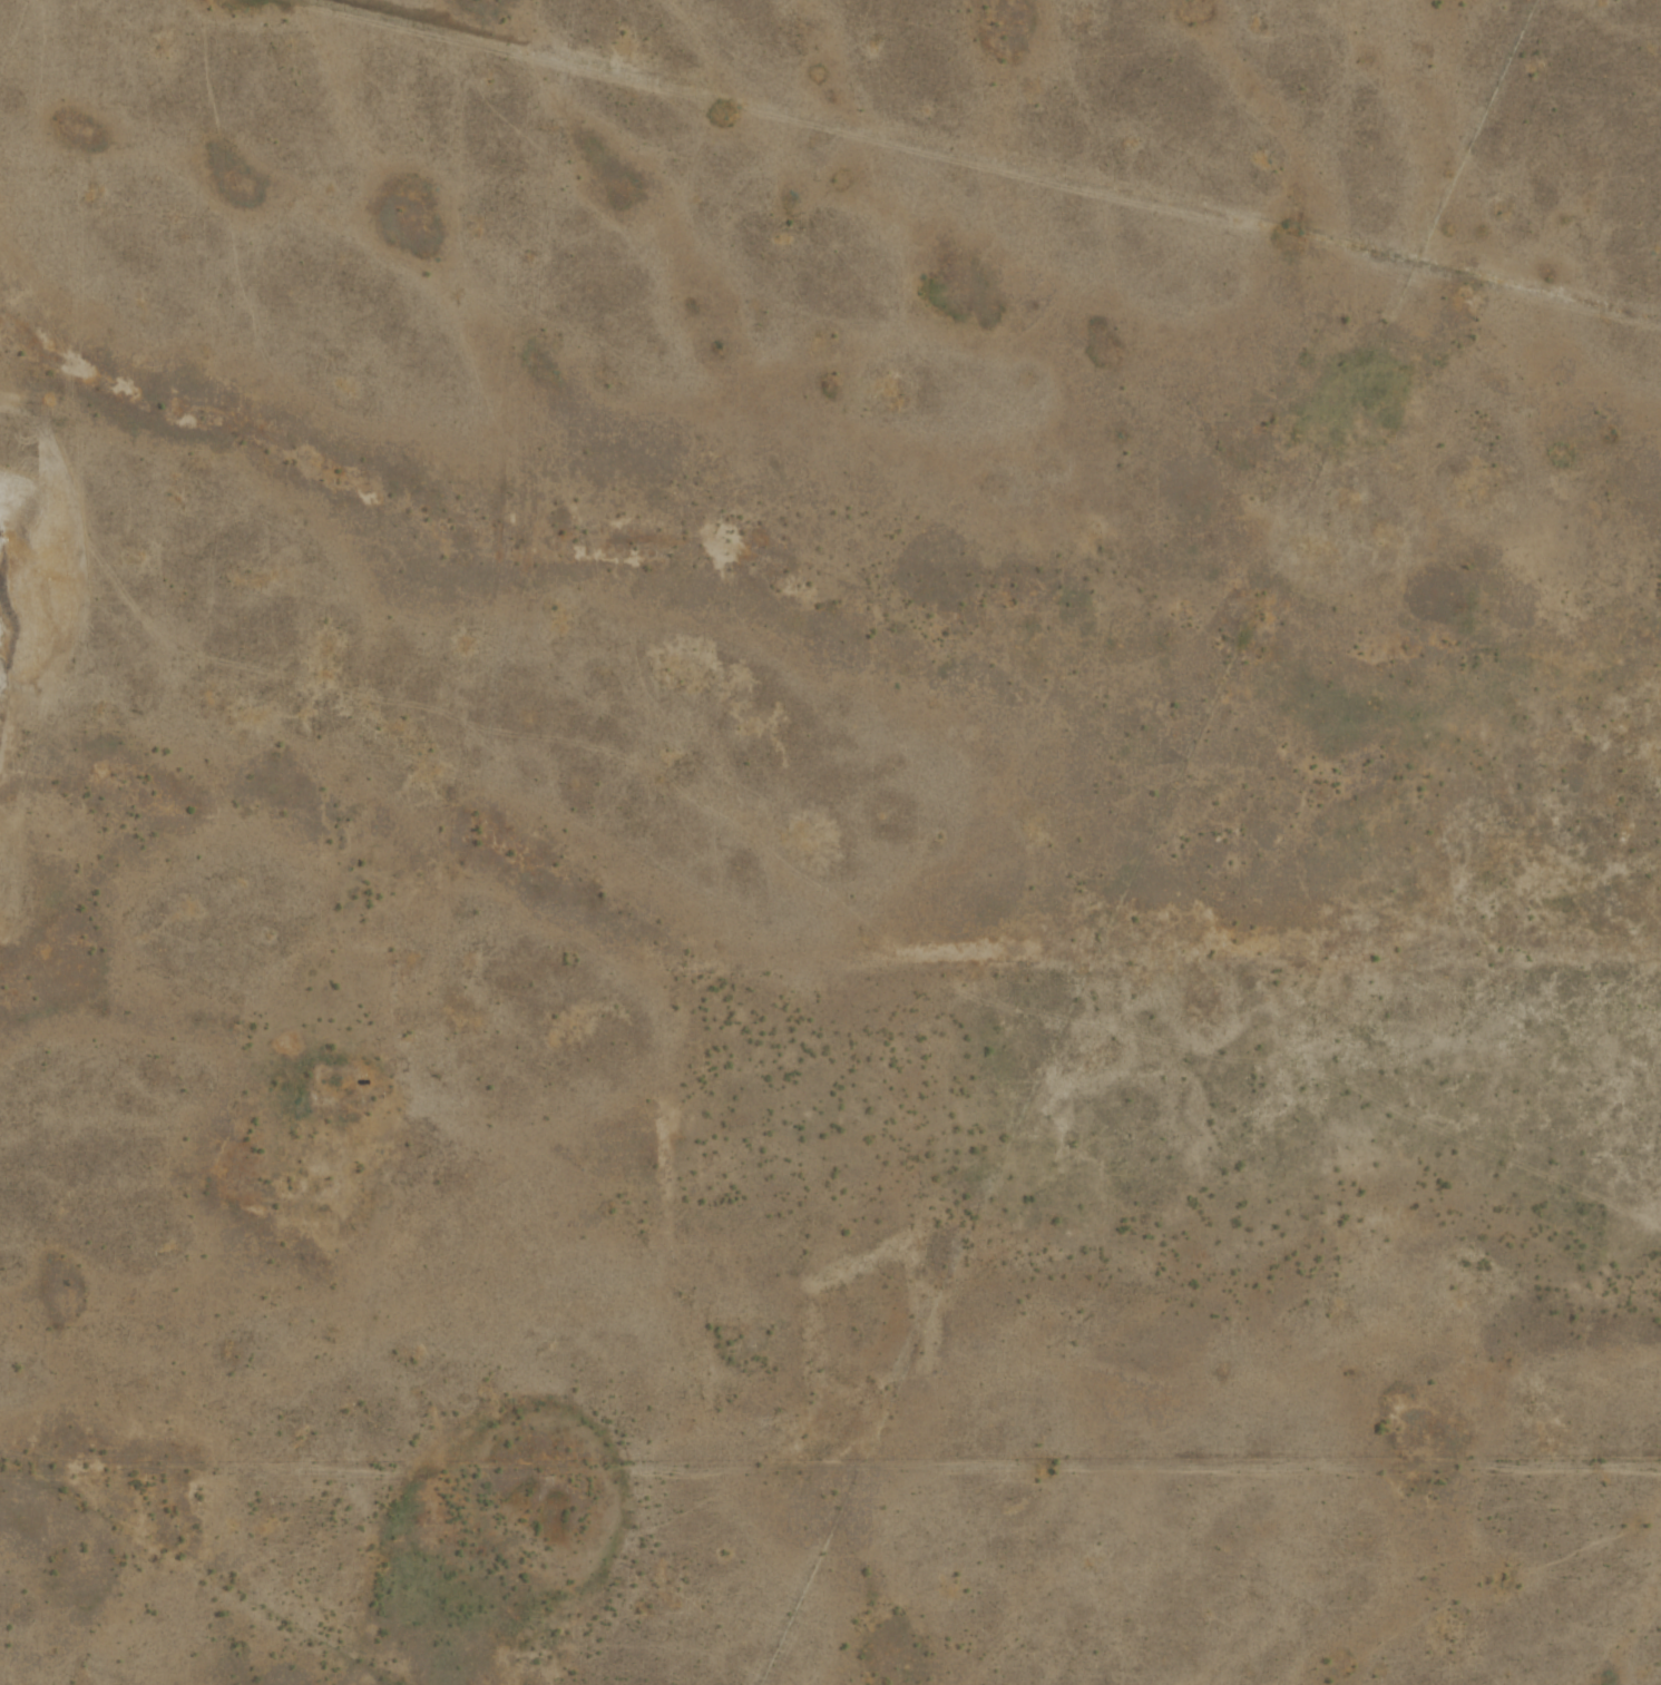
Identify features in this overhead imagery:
road: (479, 510)

